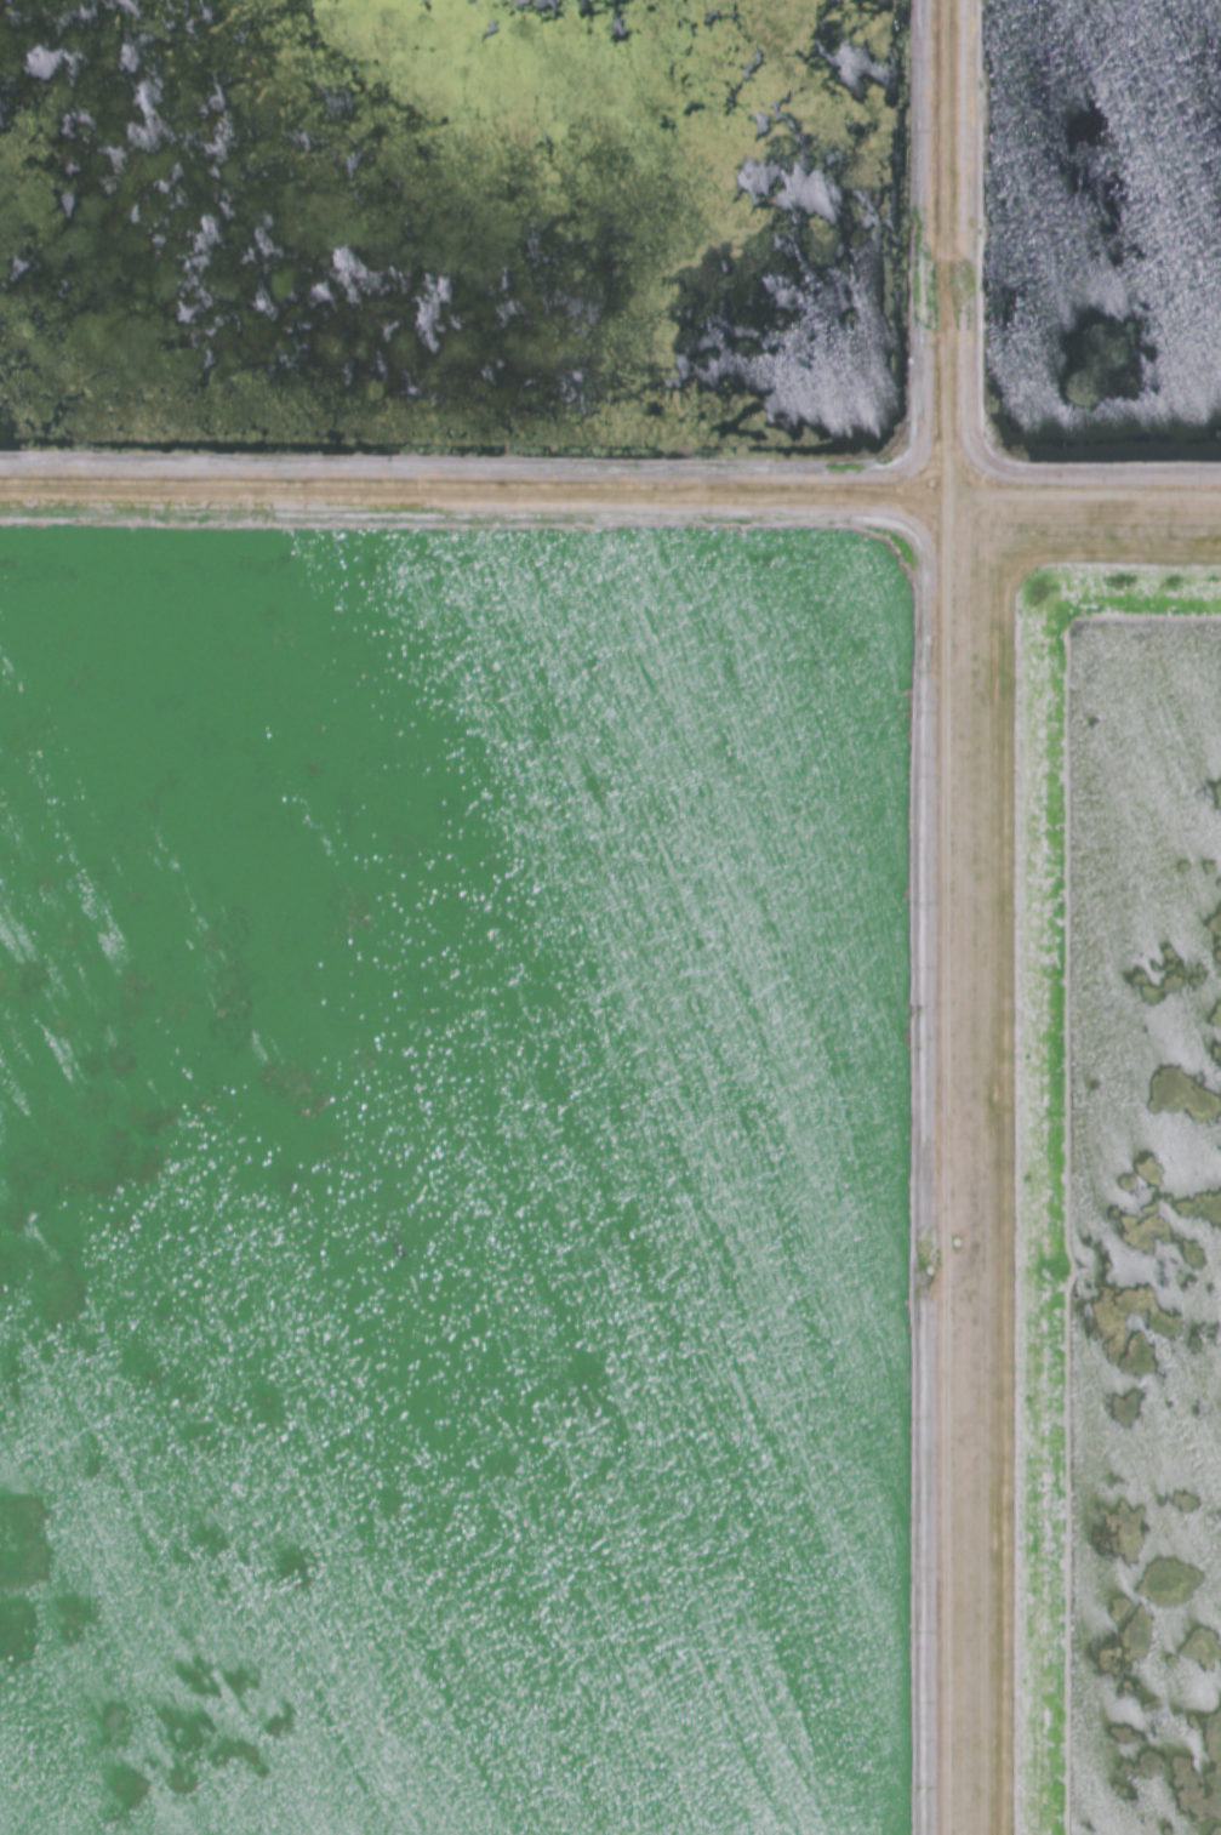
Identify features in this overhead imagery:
road: (1083, 496)
wastewater plant: (610, 917)
road: (946, 917)

